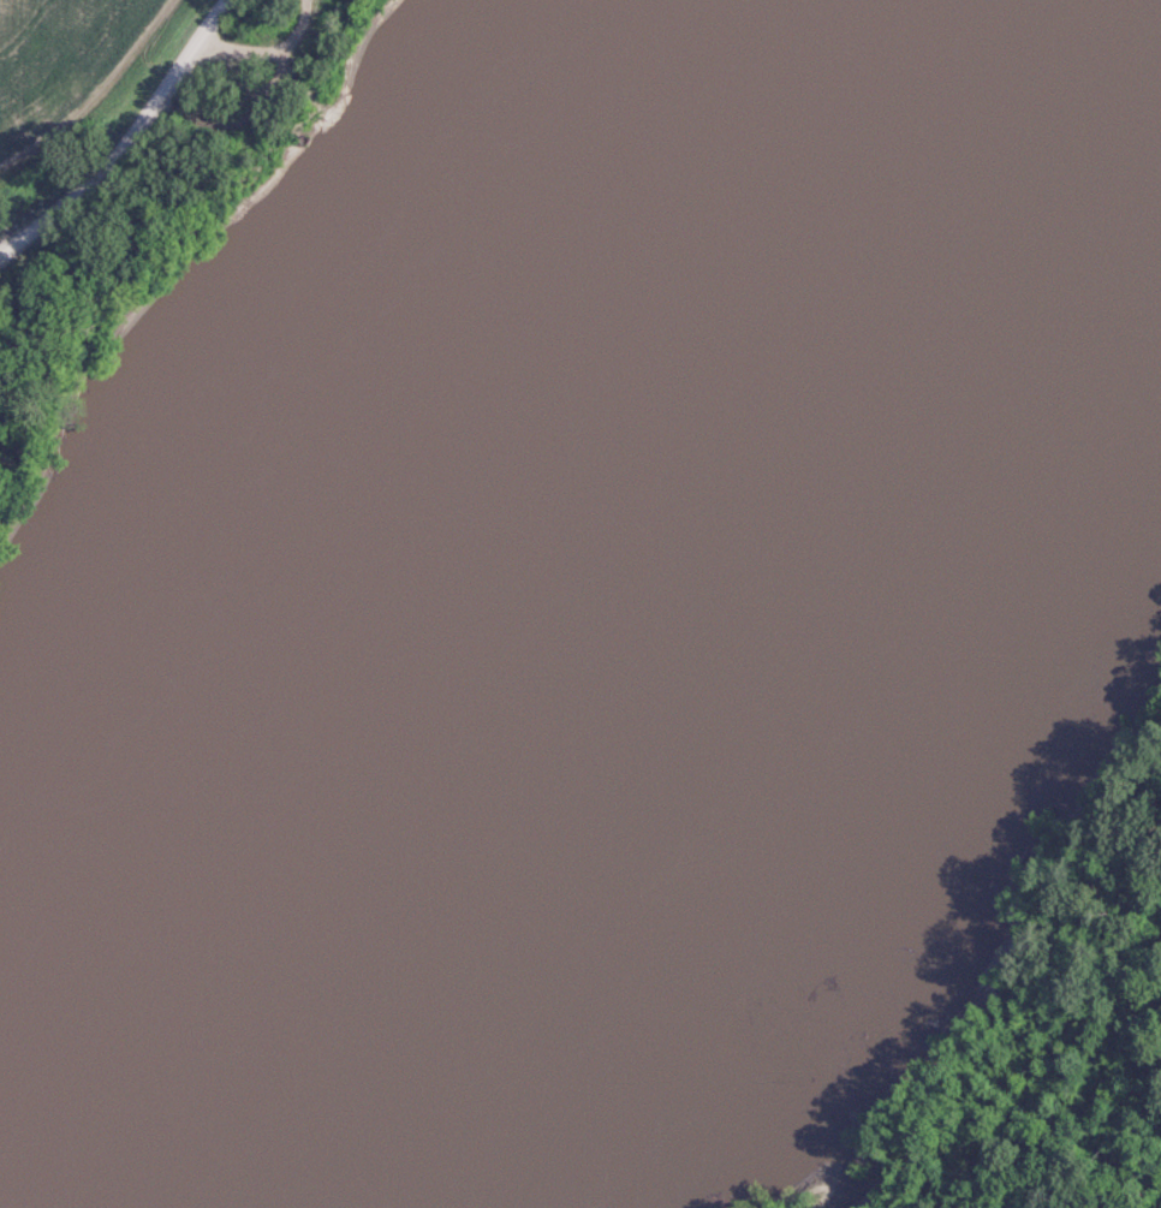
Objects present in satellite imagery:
road: (132, 147)
river: (488, 549)

